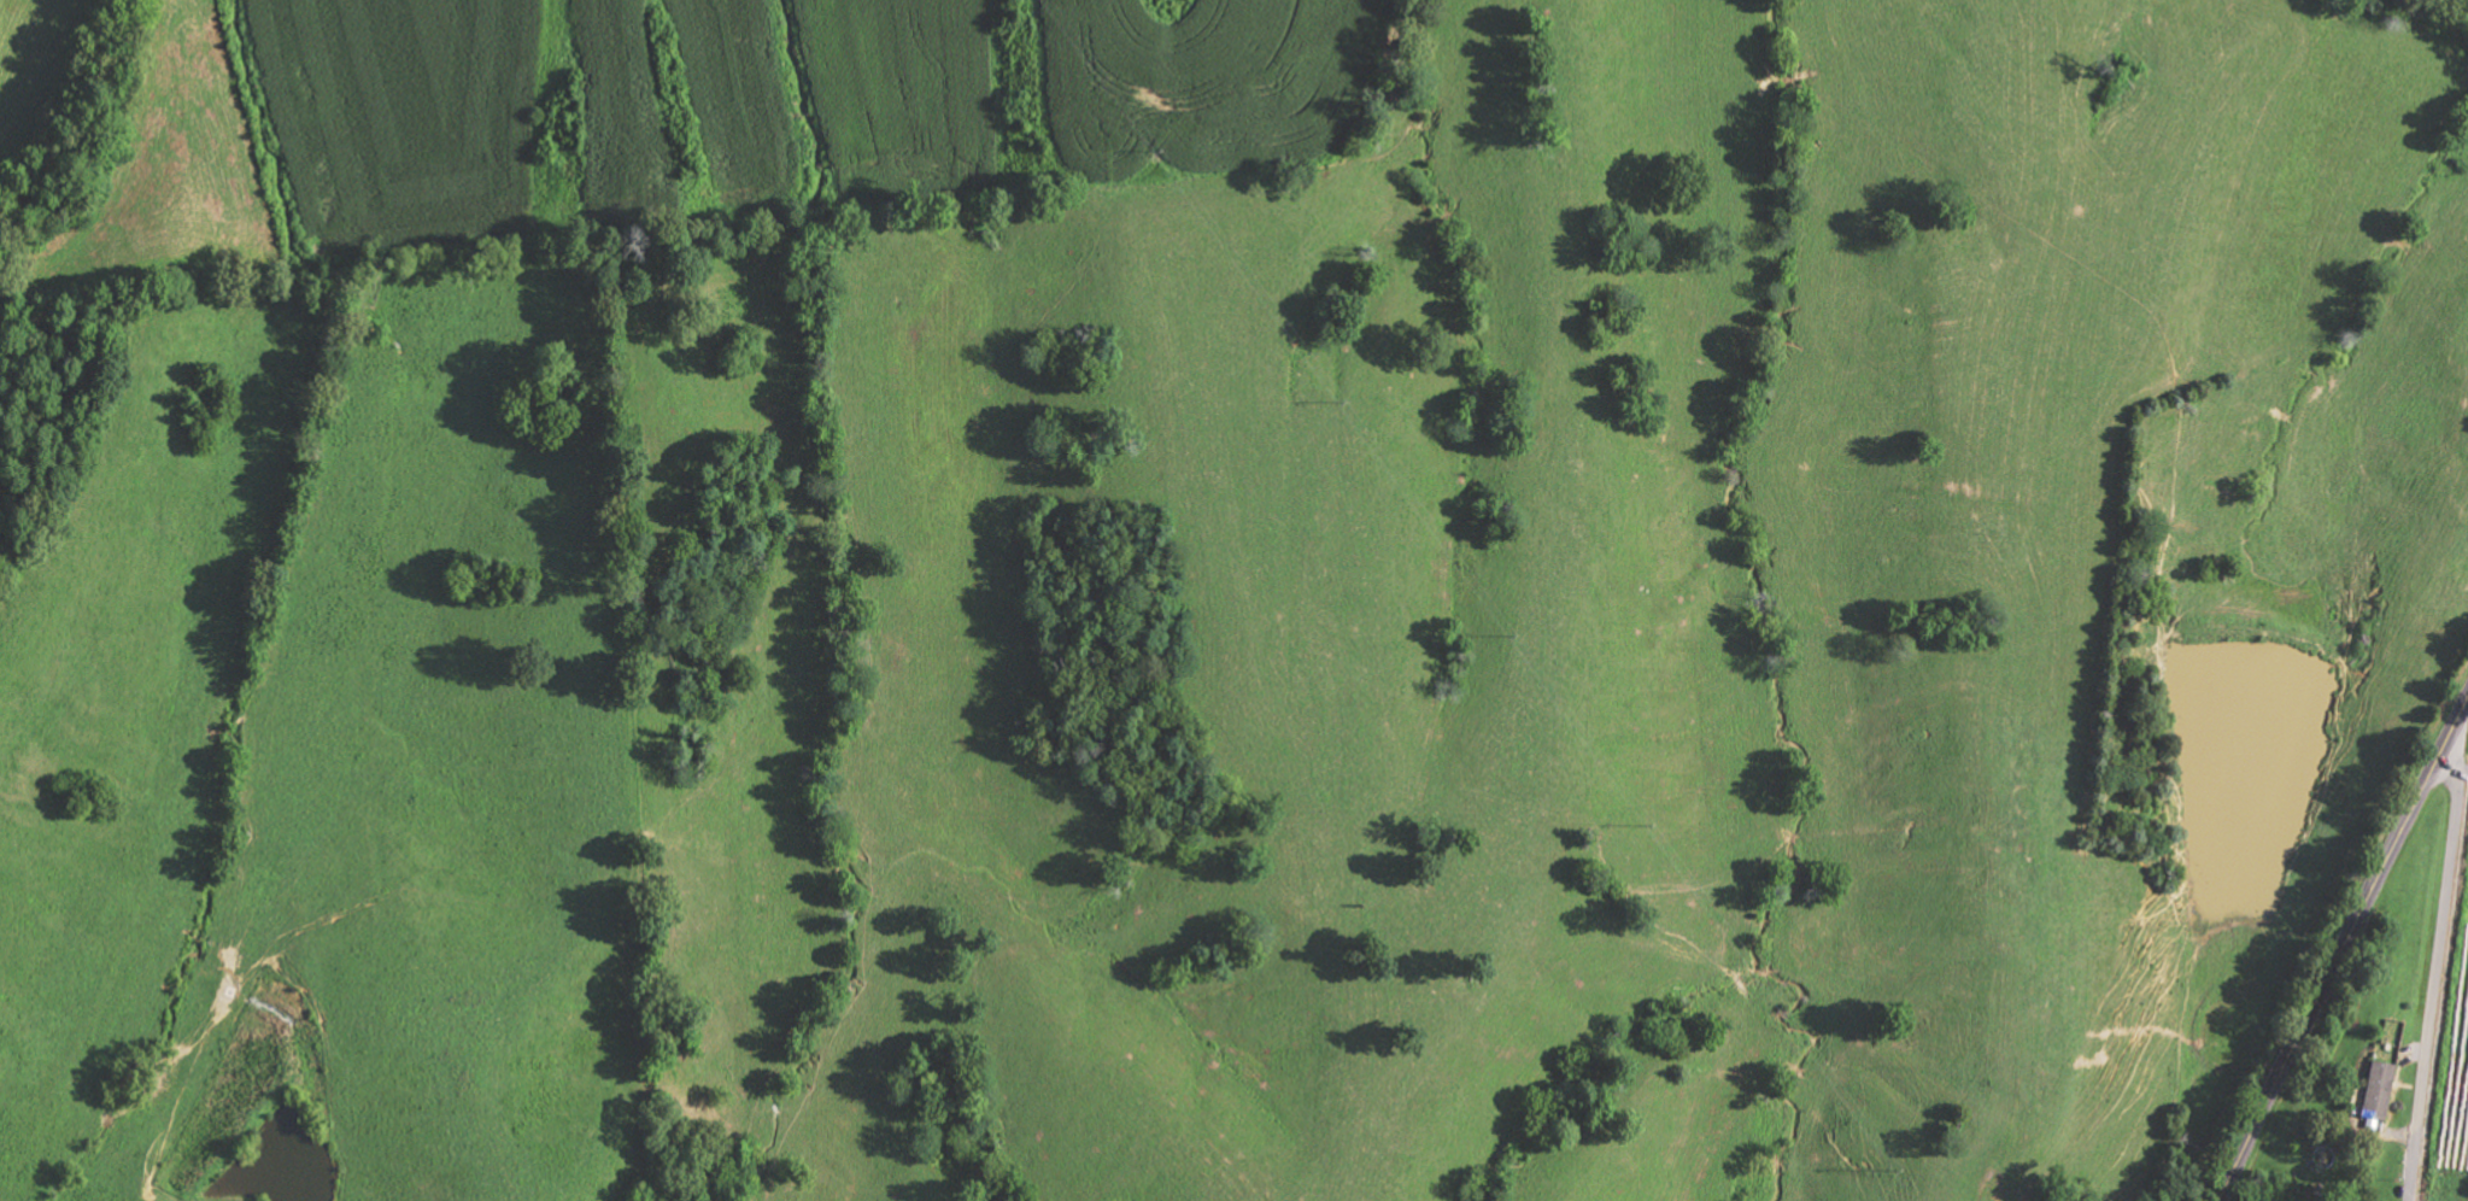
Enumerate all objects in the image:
road: (2343, 950)
road: (2437, 959)
building: (2378, 1092)

